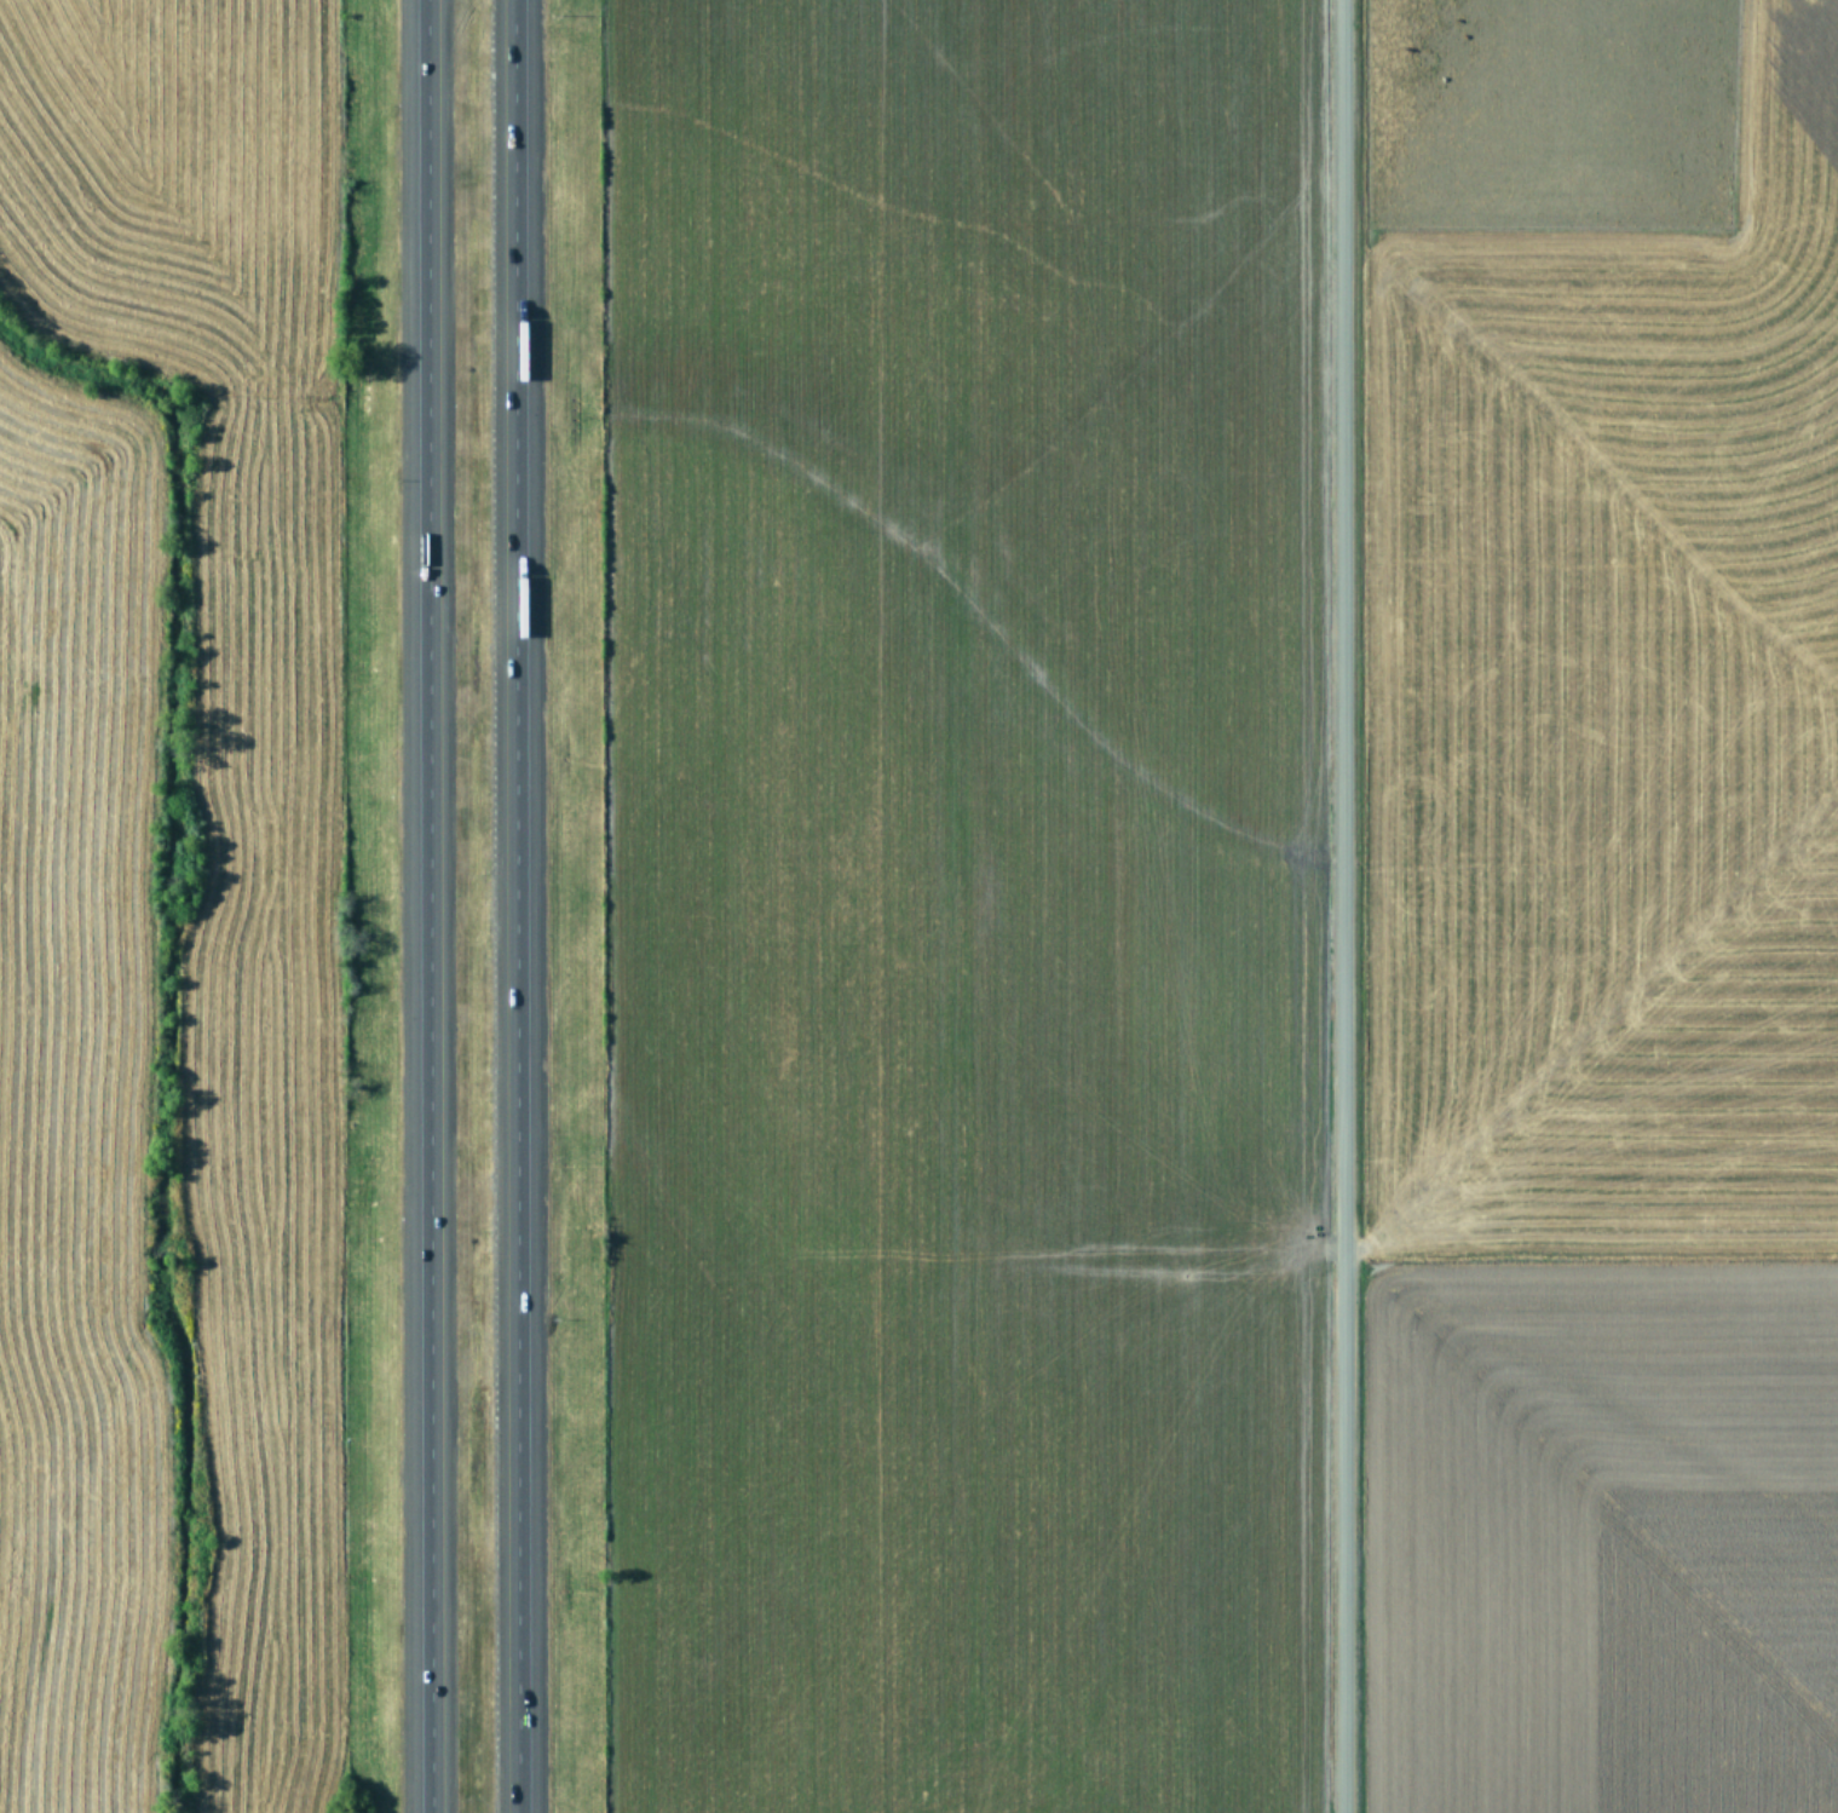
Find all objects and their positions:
crop: (1228, 905)
road: (439, 907)
road: (519, 907)
road: (1343, 907)
crop: (188, 915)

